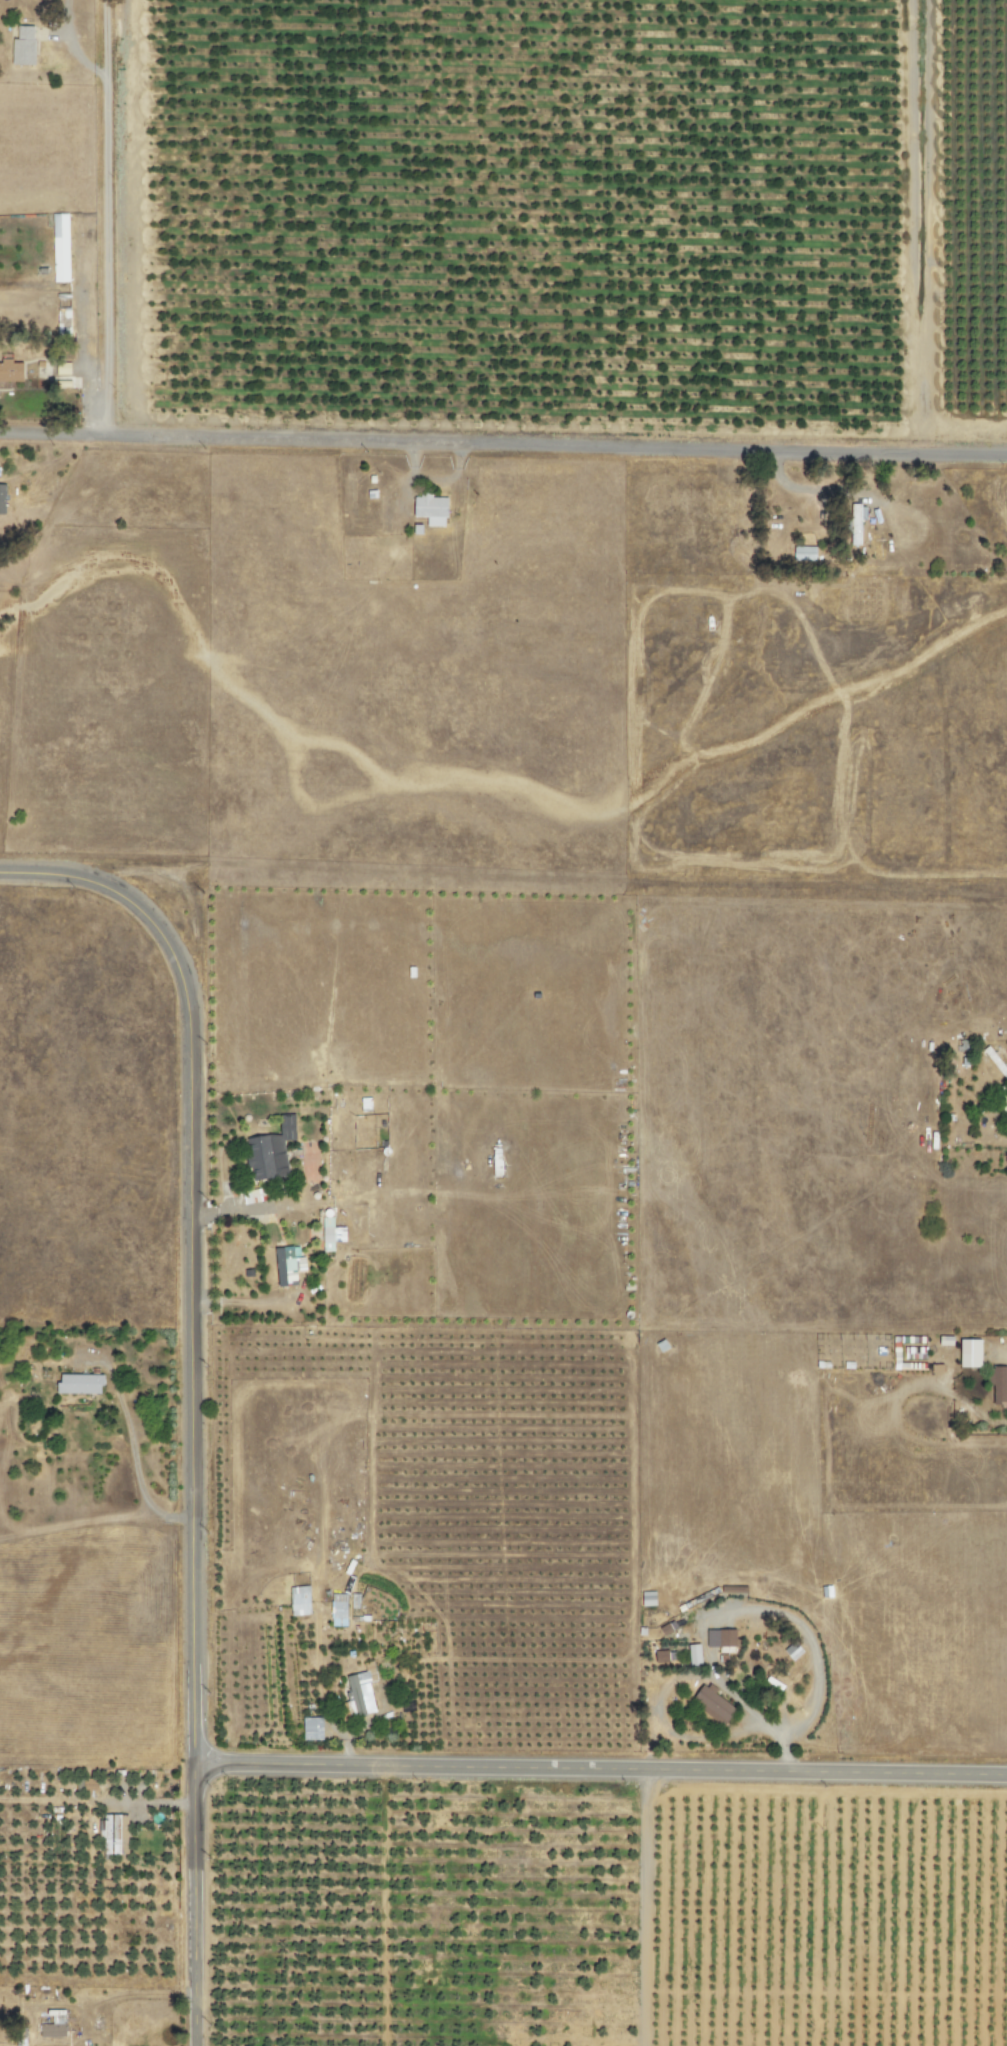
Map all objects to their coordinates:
building: (23, 46)
road: (105, 216)
building: (60, 248)
building: (63, 321)
building: (11, 371)
road: (503, 442)
building: (2, 499)
building: (430, 507)
building: (804, 554)
building: (270, 1152)
building: (331, 1234)
road: (186, 1255)
building: (287, 1266)
building: (946, 1340)
building: (970, 1353)
building: (80, 1384)
building: (998, 1384)
building: (648, 1598)
building: (300, 1601)
building: (337, 1610)
building: (721, 1638)
building: (793, 1651)
building: (694, 1655)
building: (661, 1657)
building: (362, 1689)
building: (713, 1705)
building: (312, 1729)
road: (599, 1769)
building: (90, 1784)
building: (115, 1834)
road: (191, 1904)
building: (53, 2025)

